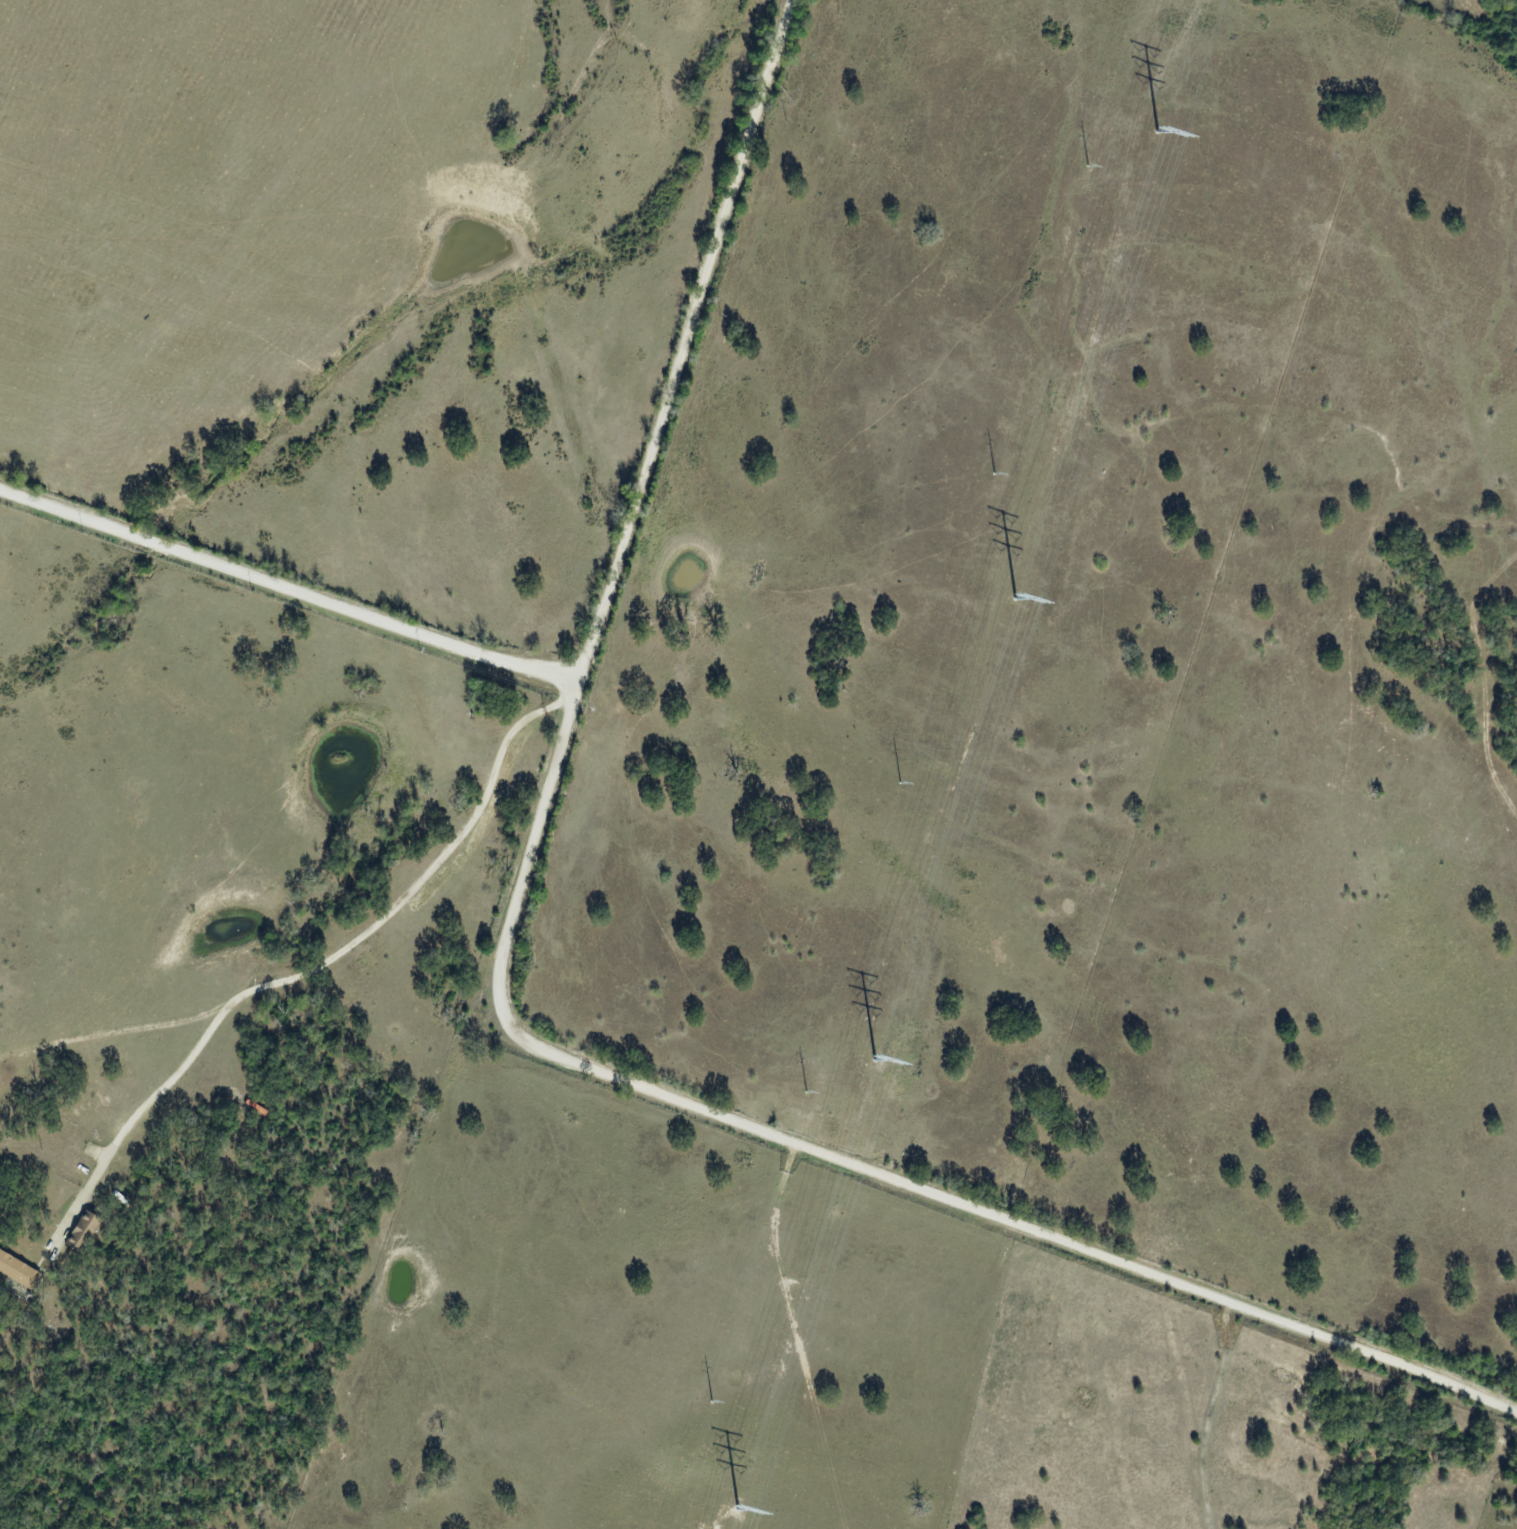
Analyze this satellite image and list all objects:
power tower: (1087, 166)
power tower: (993, 474)
road: (284, 589)
power tower: (898, 783)
road: (510, 1030)
power tower: (806, 1093)
building: (86, 1232)
building: (19, 1270)
power tower: (710, 1402)

